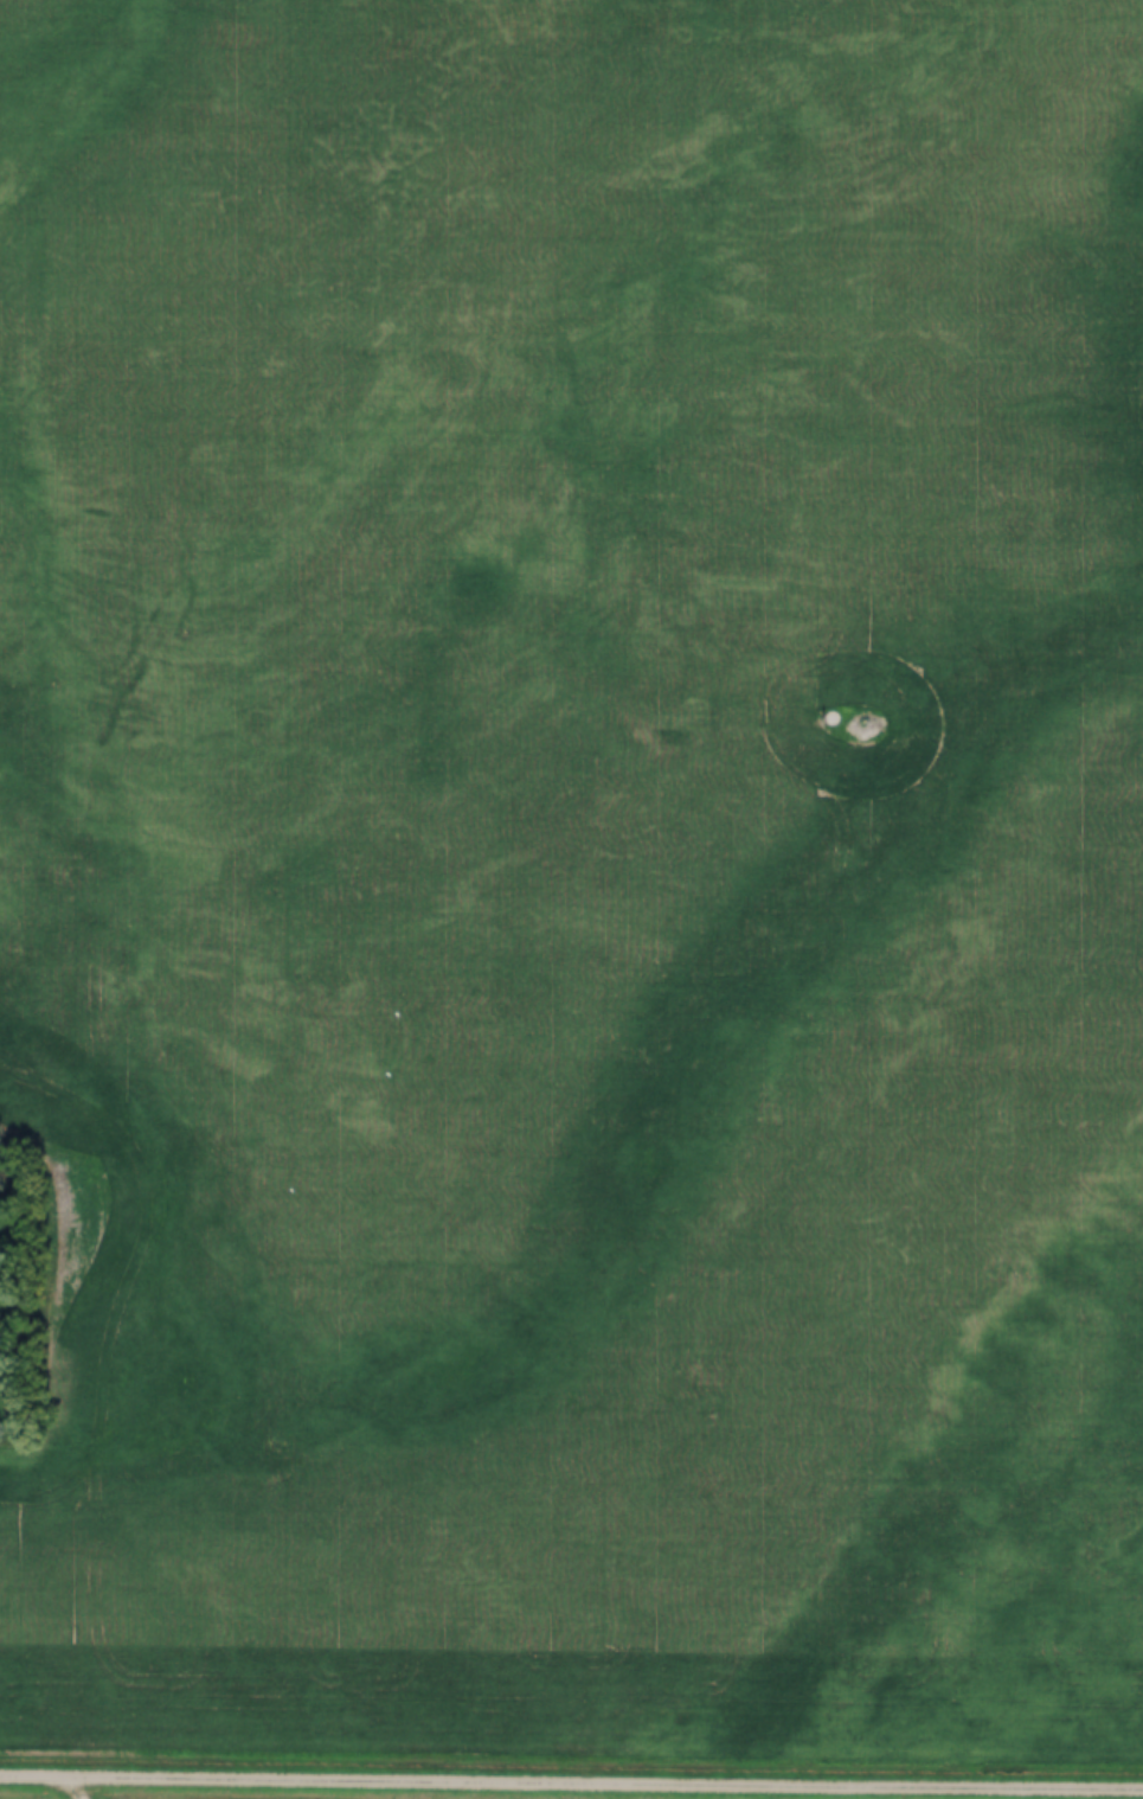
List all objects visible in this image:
road: (571, 1786)

